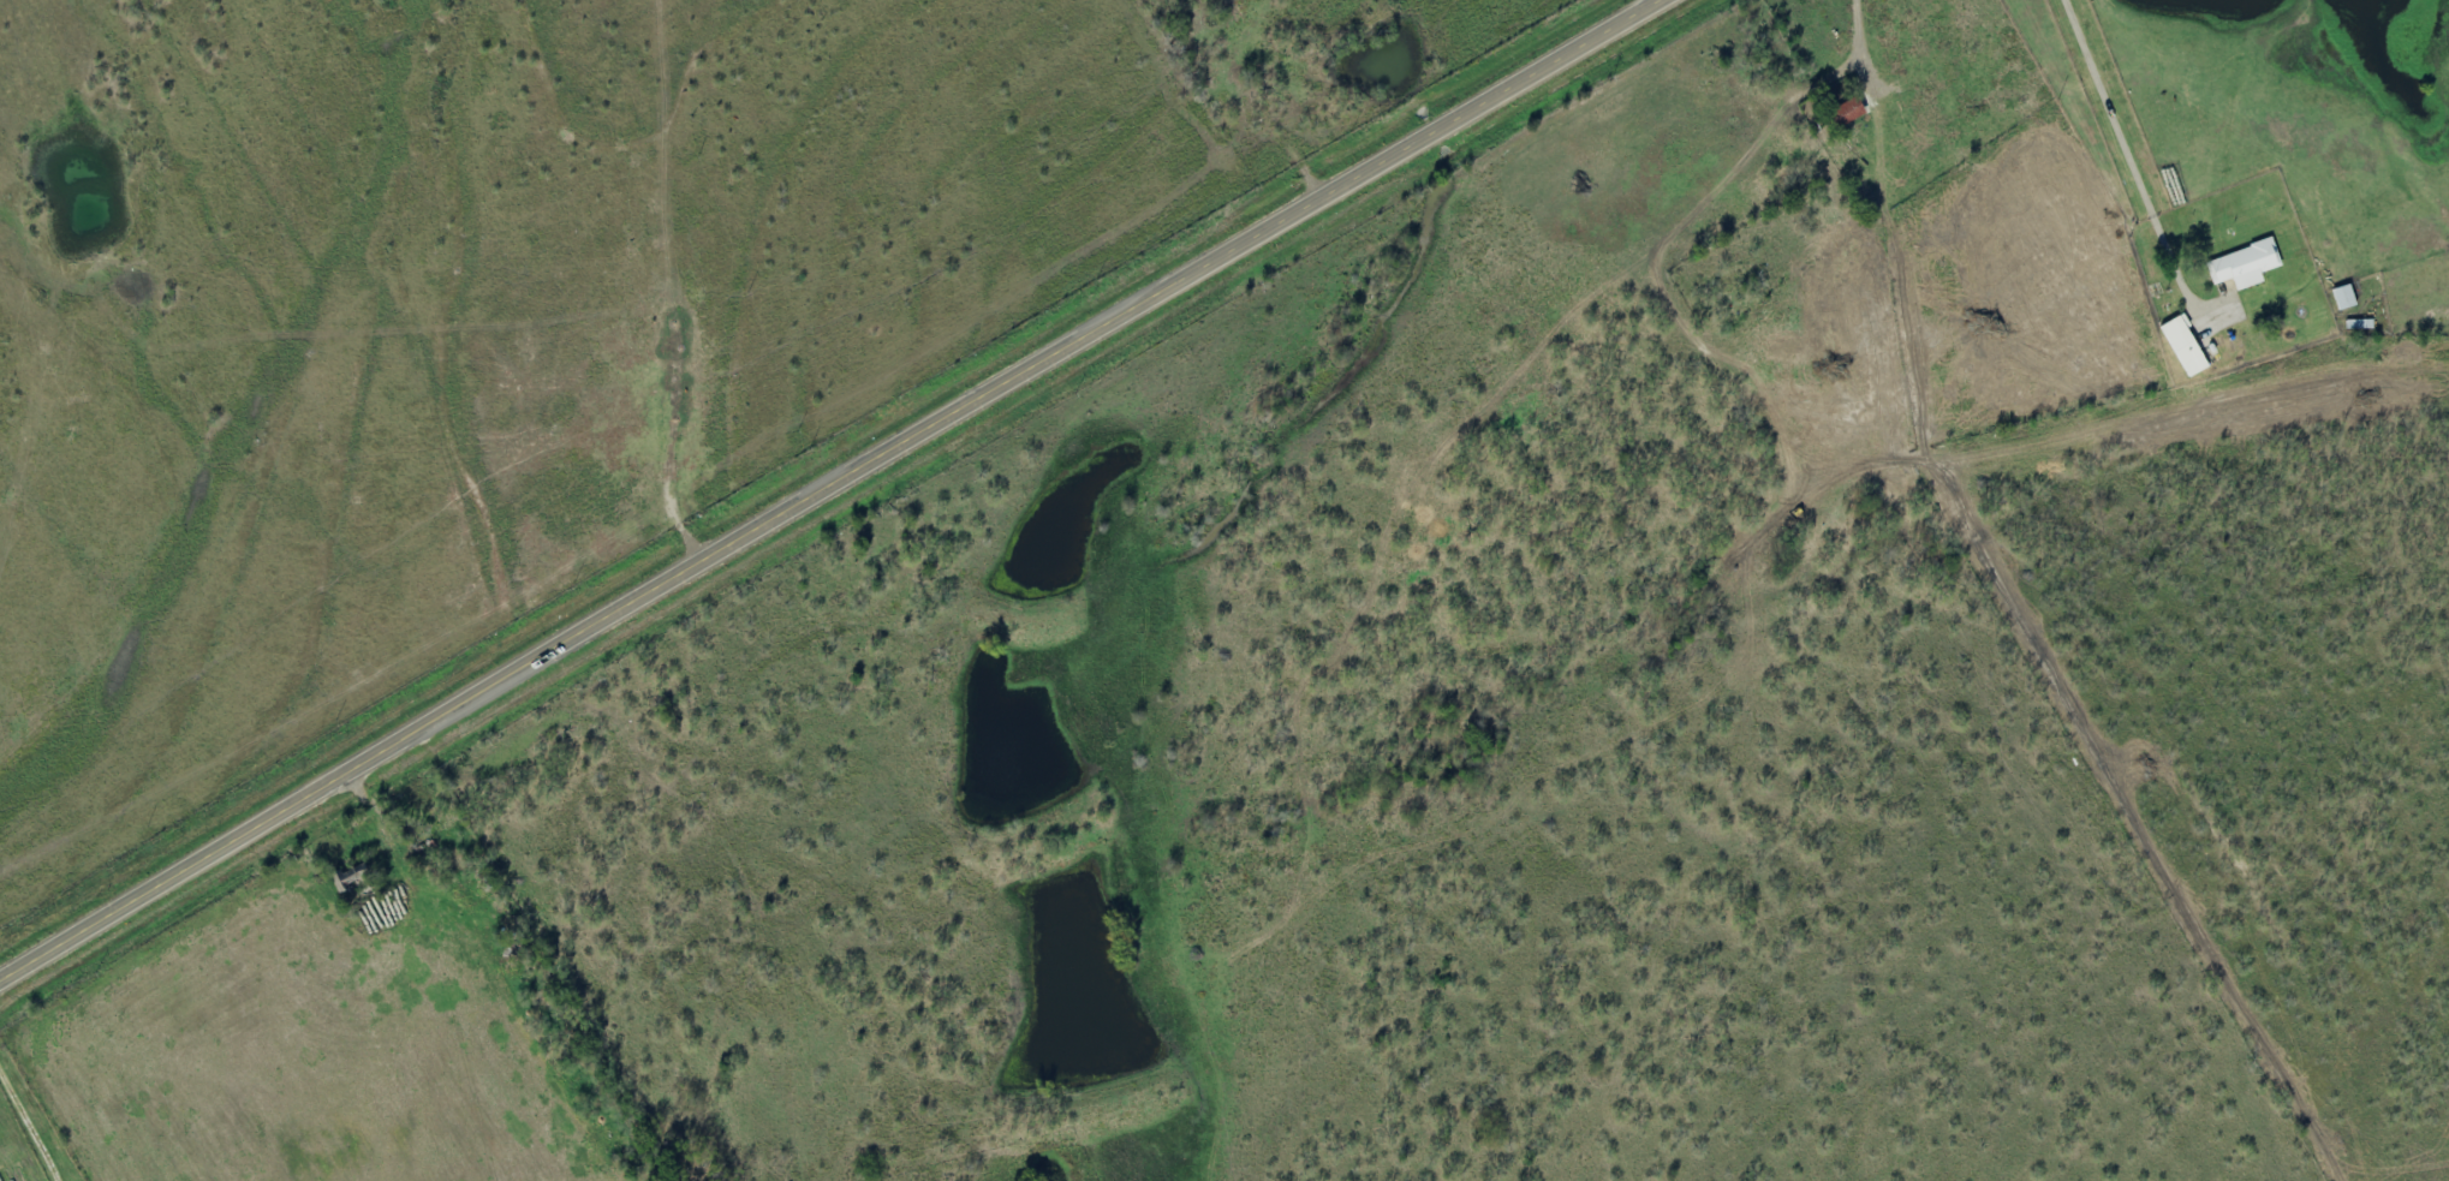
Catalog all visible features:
building: (1848, 113)
building: (2245, 266)
building: (2344, 298)
building: (2185, 347)
road: (833, 489)
road: (28, 1123)

